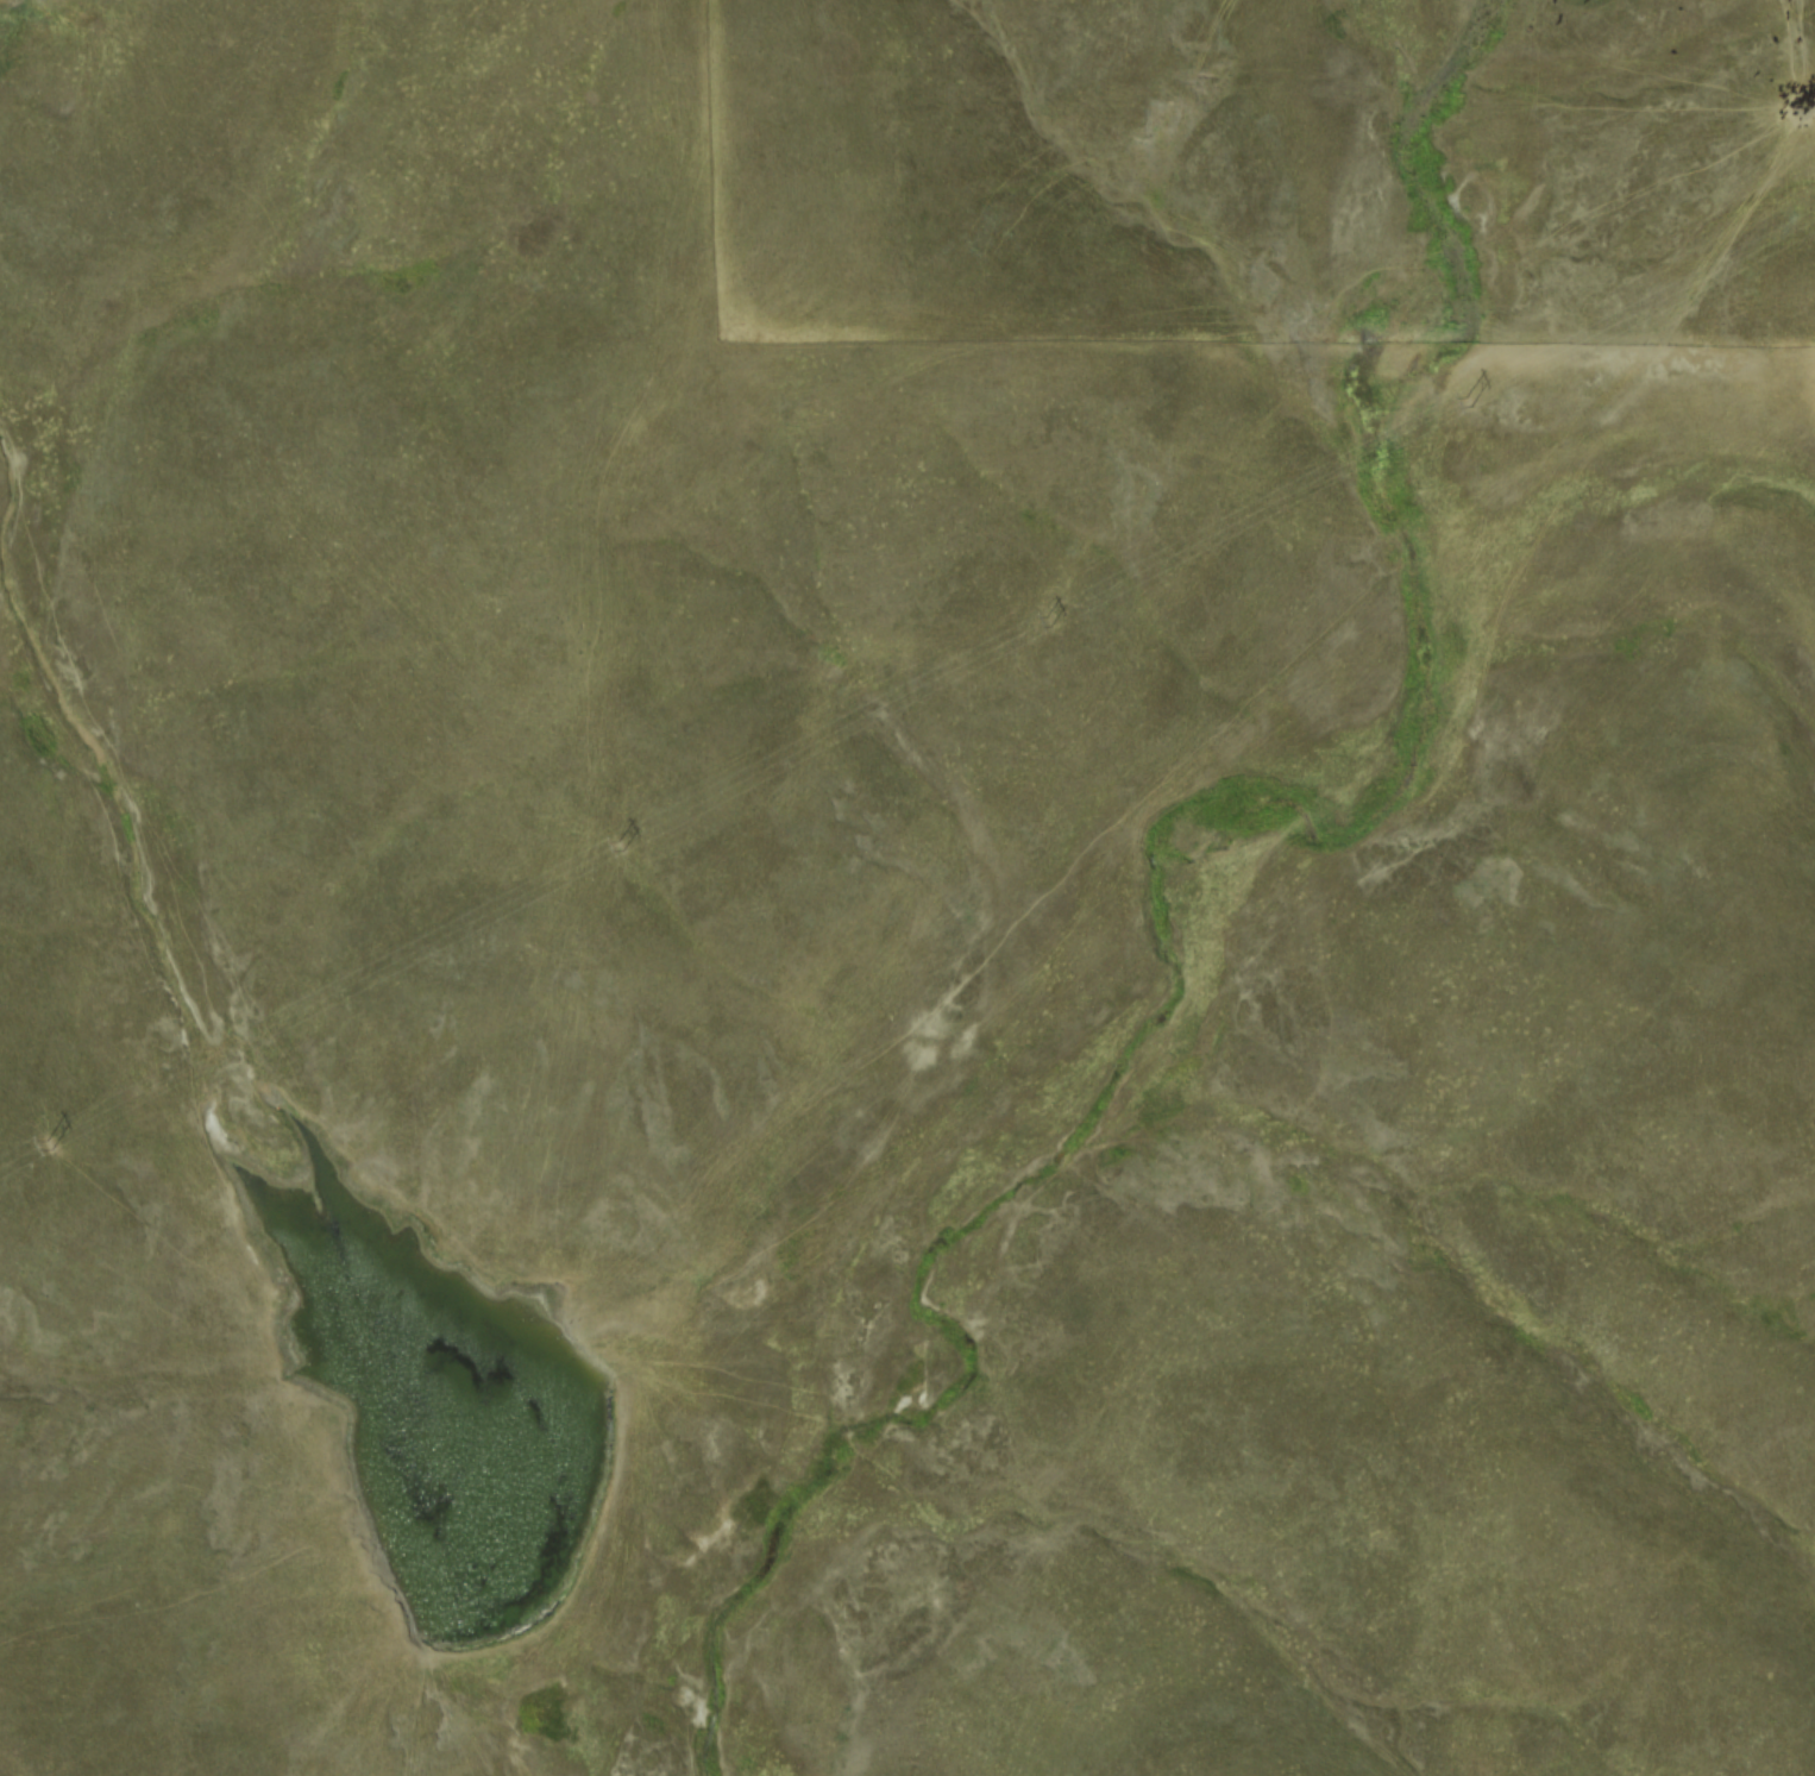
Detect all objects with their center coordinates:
road: (1798, 17)
power tower: (1464, 400)
power tower: (1047, 620)
power tower: (615, 846)
power tower: (43, 1144)

